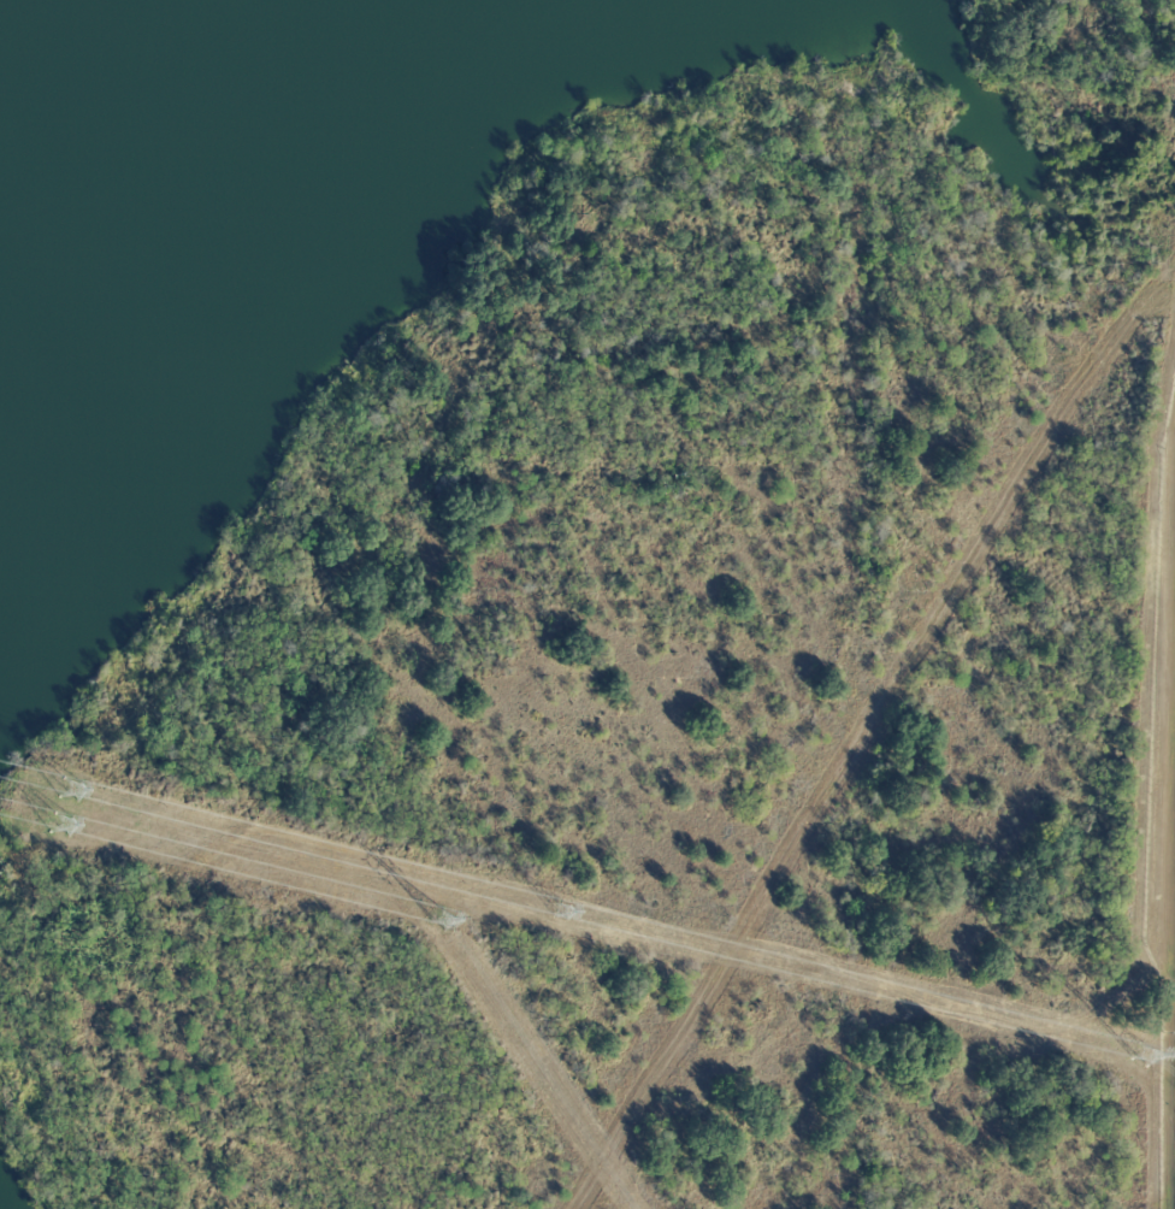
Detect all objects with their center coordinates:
power tower: (561, 913)
power tower: (436, 914)
power tower: (1144, 1056)

